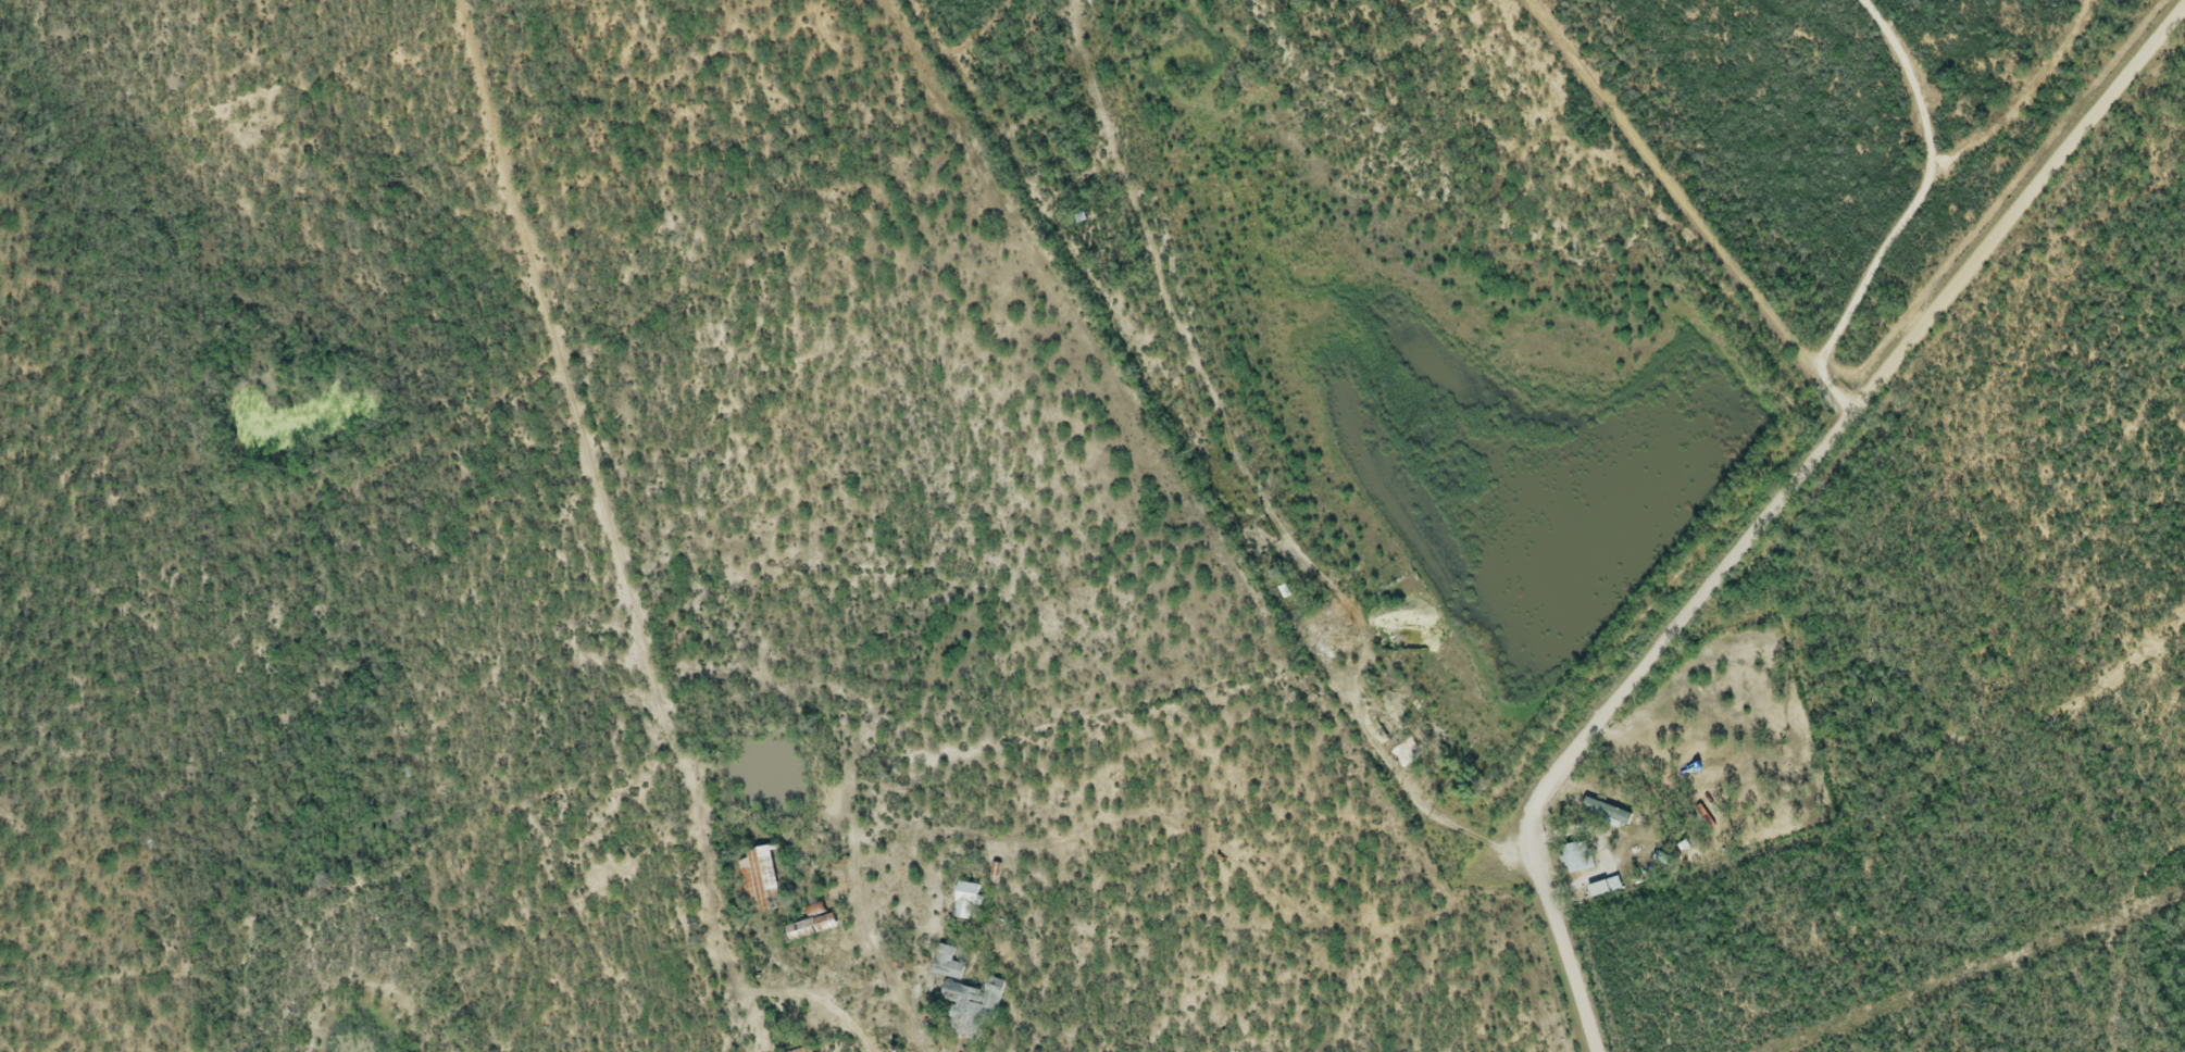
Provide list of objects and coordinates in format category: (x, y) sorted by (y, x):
road: (1669, 188)
road: (1922, 190)
road: (1830, 391)
road: (1806, 456)
building: (1320, 633)
road: (1381, 748)
building: (1402, 754)
building: (1603, 815)
road: (1482, 839)
road: (967, 859)
building: (1575, 859)
building: (758, 882)
building: (964, 903)
building: (942, 962)
building: (959, 992)
road: (1571, 997)

